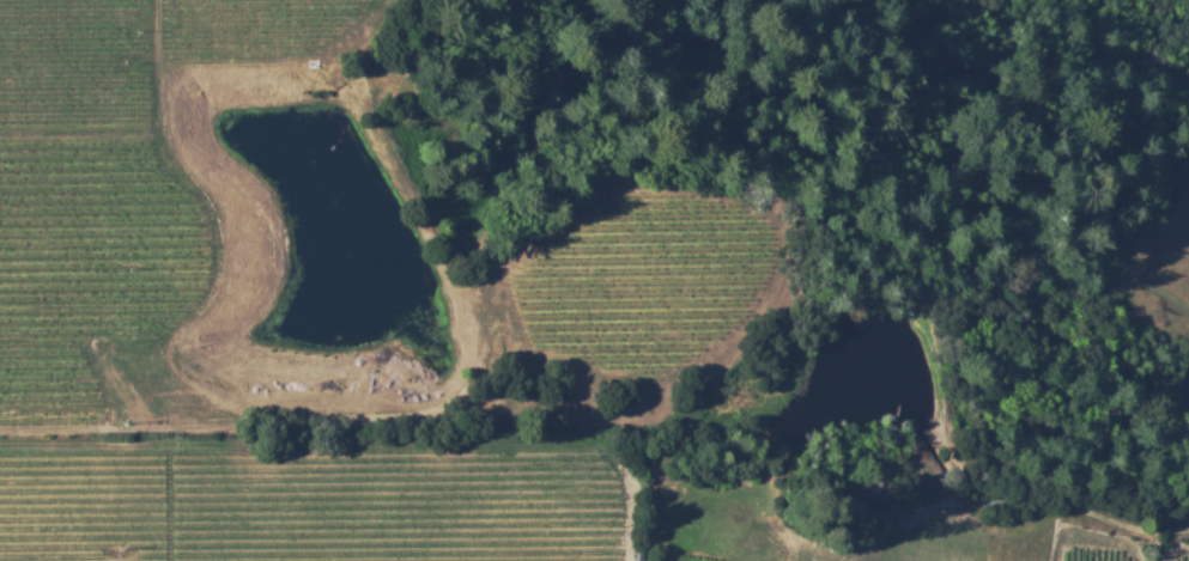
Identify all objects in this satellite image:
building: (868, 498)
building: (888, 505)
building: (637, 557)

